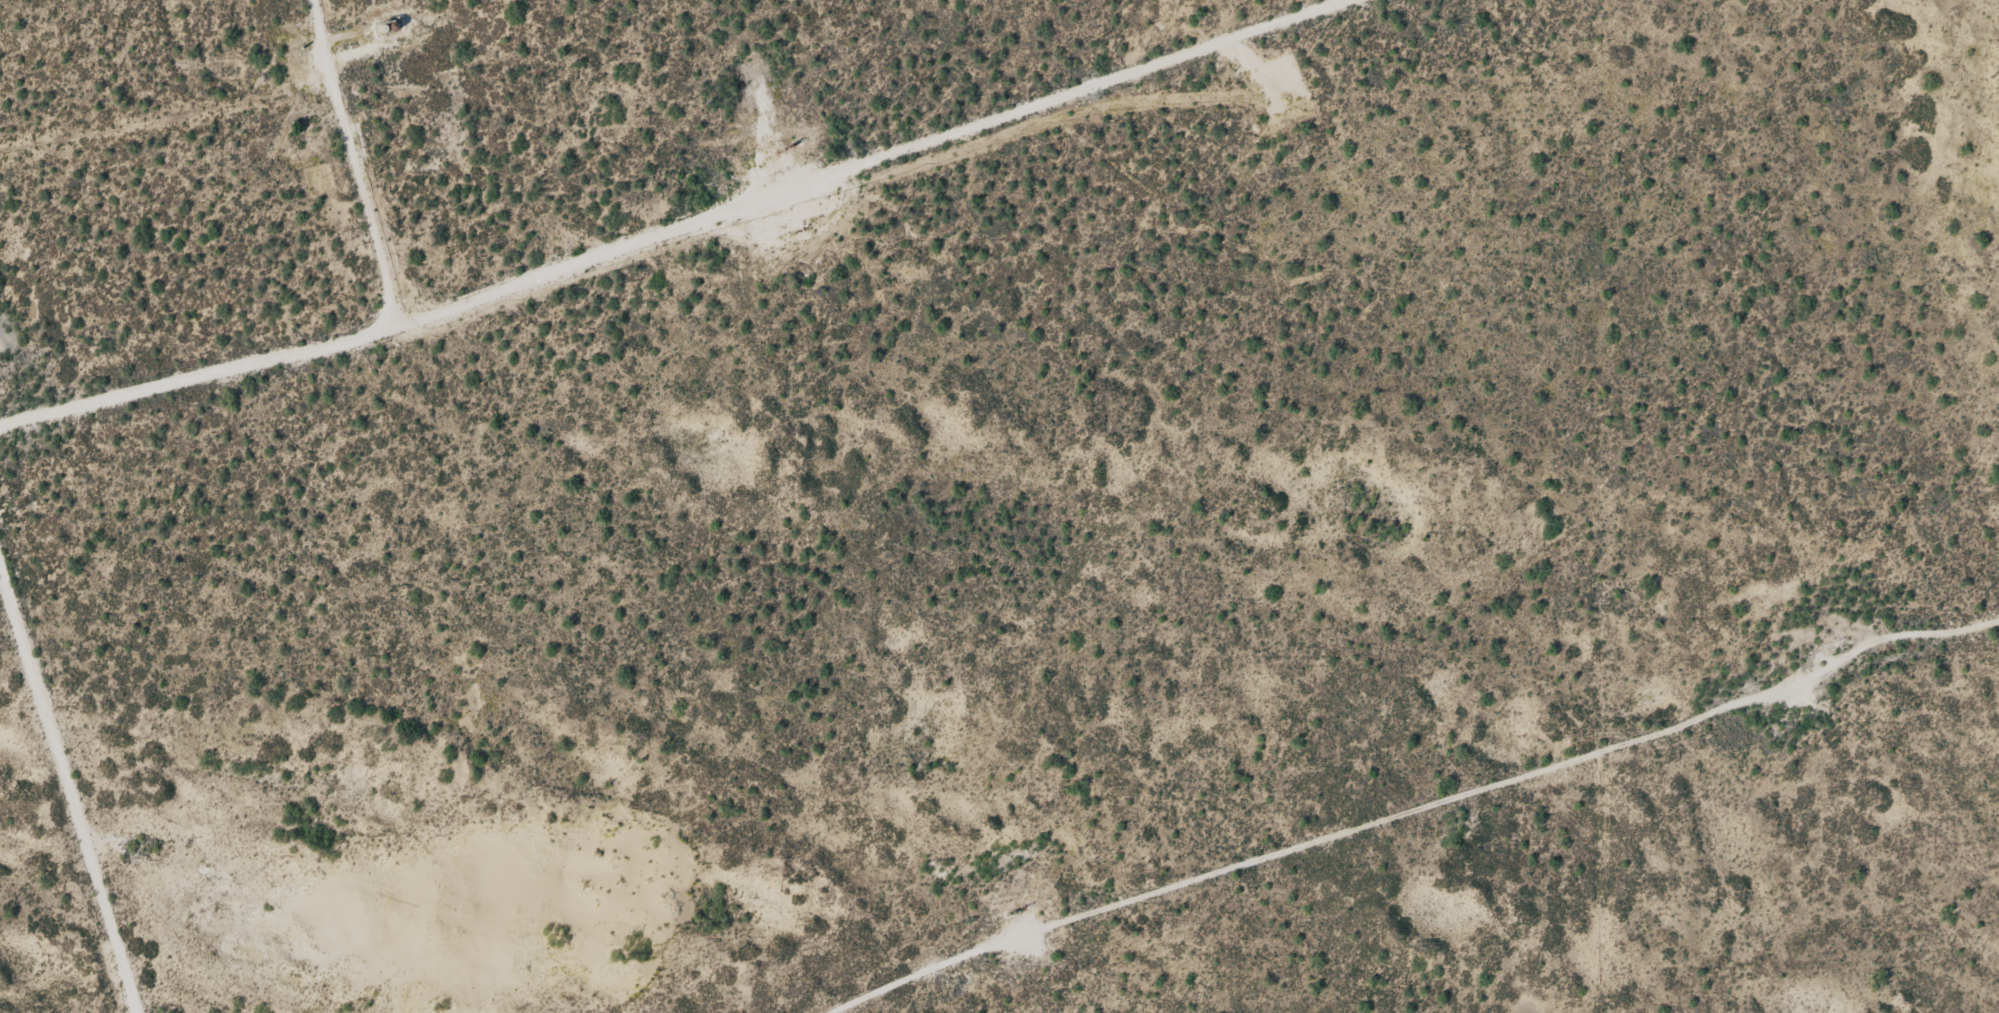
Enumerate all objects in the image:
road: (707, 221)
road: (218, 419)
road: (74, 783)
road: (1444, 825)

